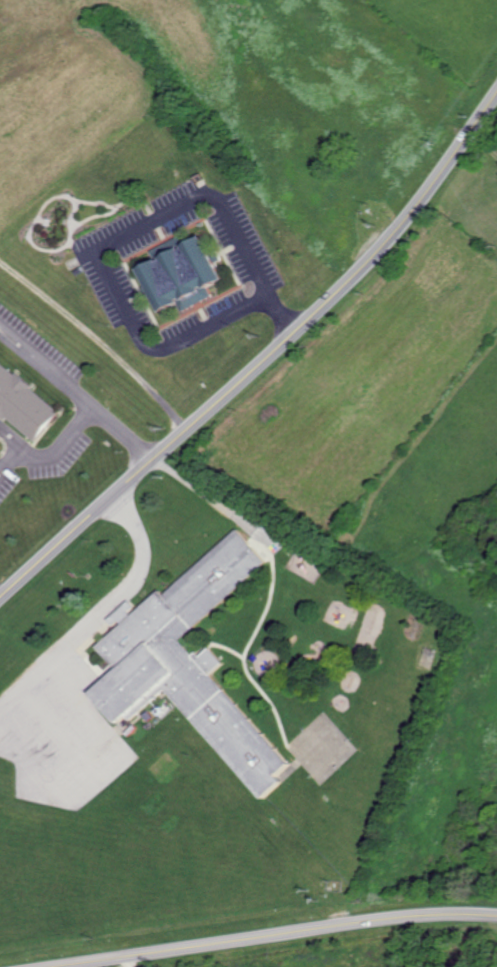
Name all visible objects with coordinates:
road: (118, 236)
building: (183, 274)
road: (264, 361)
road: (78, 391)
building: (23, 404)
road: (54, 449)
building: (189, 660)
road: (82, 695)
road: (488, 931)
road: (275, 935)
road: (124, 962)

